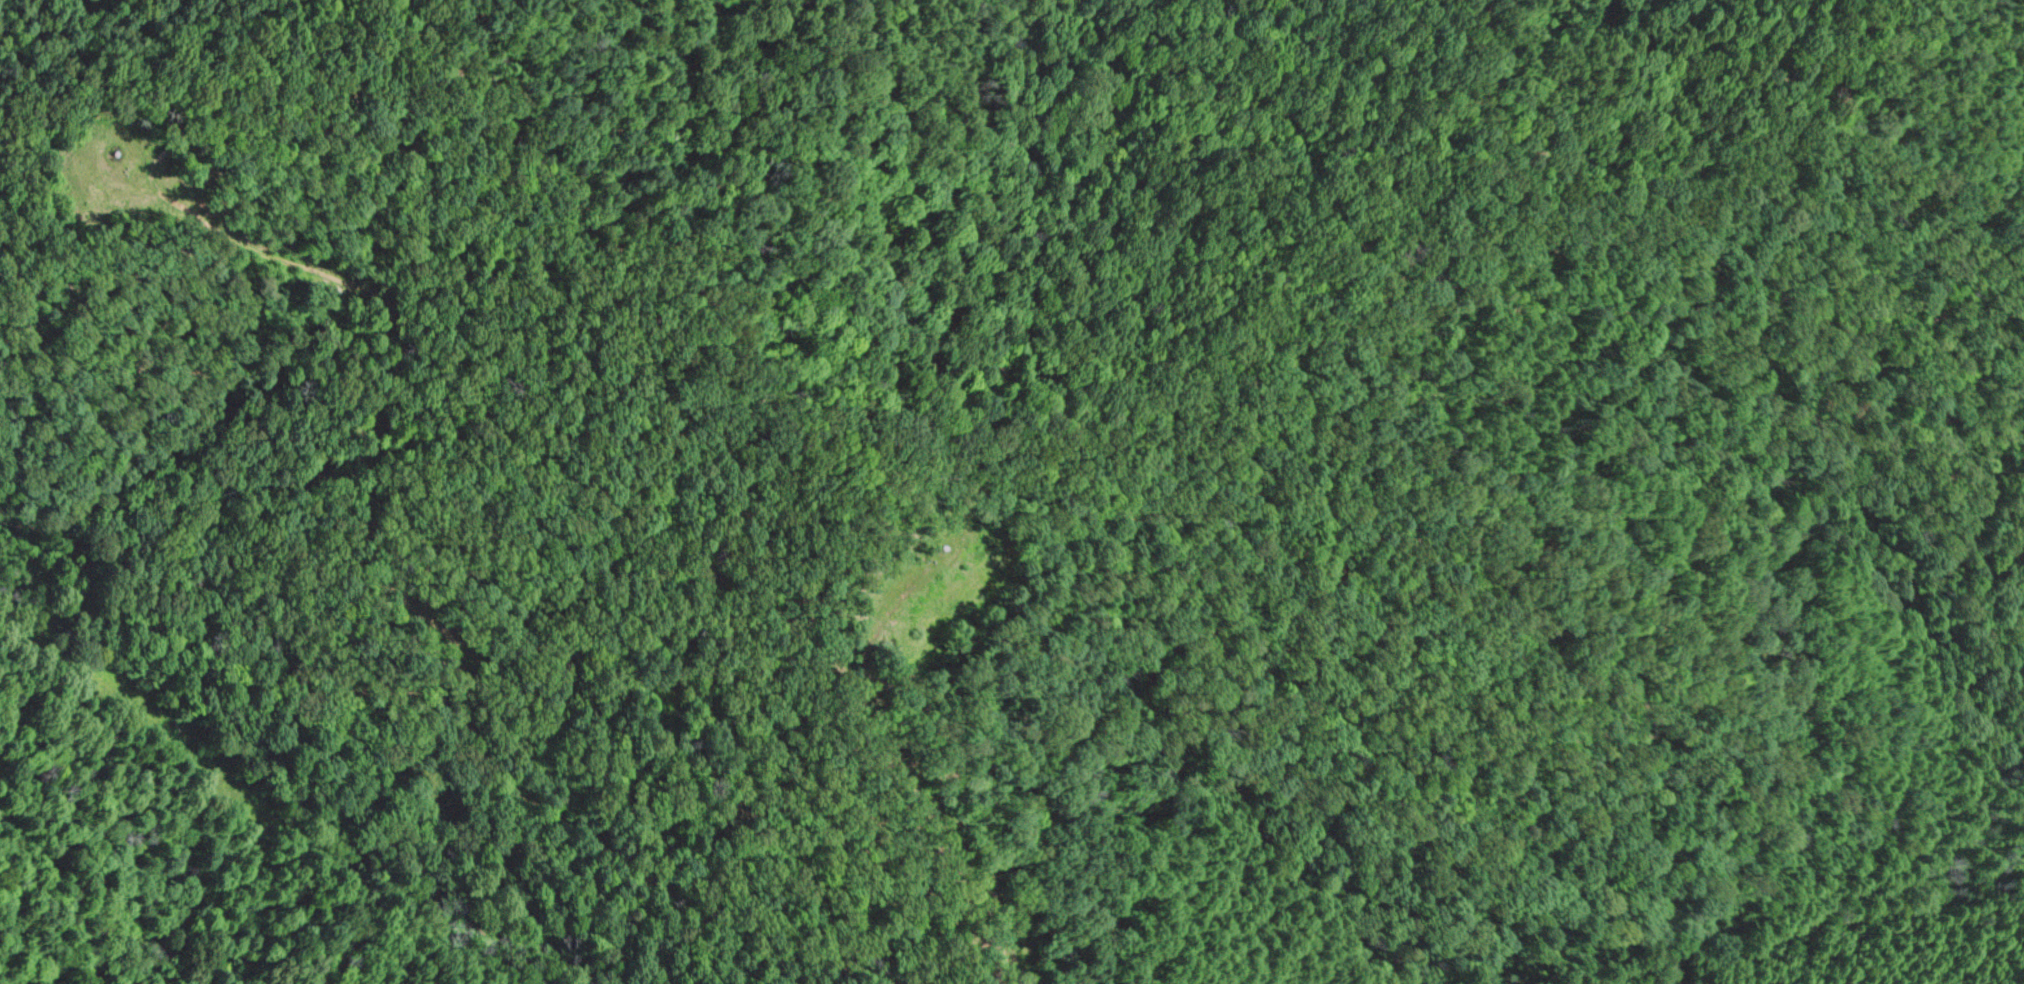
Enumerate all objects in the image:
building: (1211, 132)
road: (454, 679)
road: (1425, 707)

